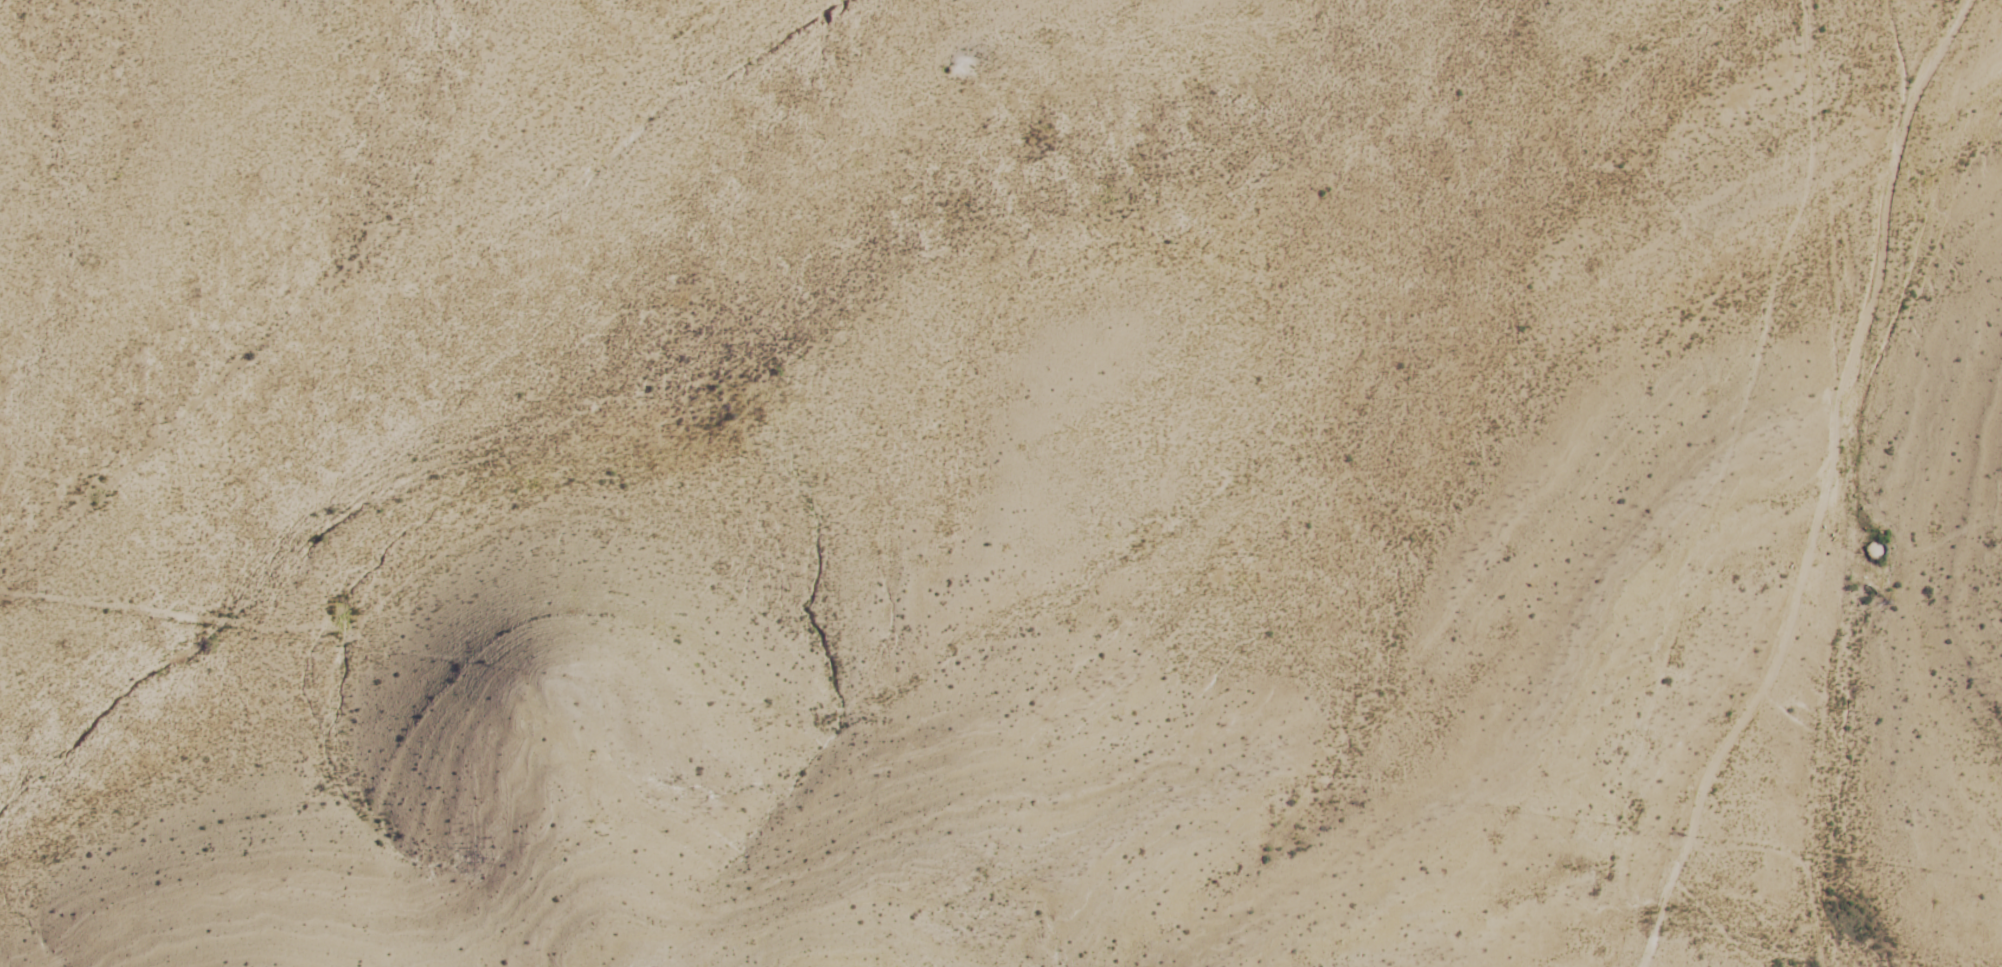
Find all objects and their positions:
road: (1821, 489)
road: (1700, 933)

